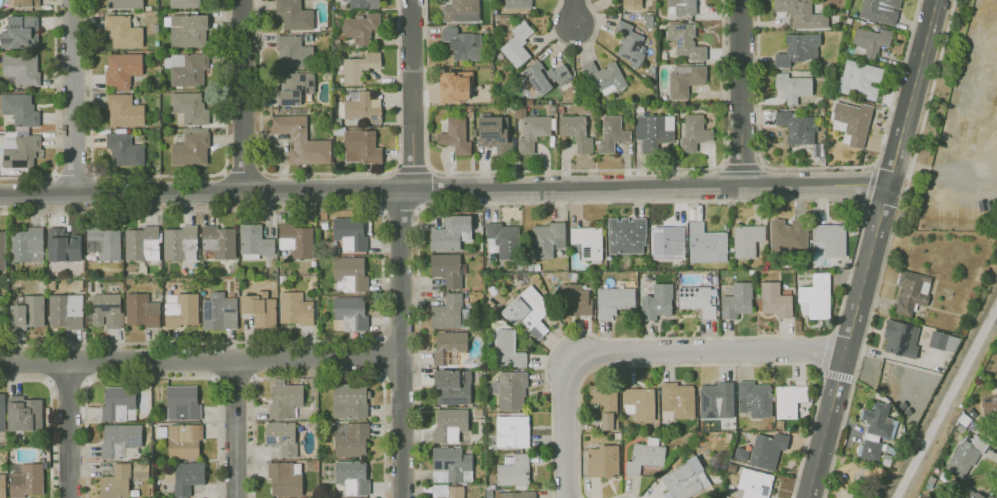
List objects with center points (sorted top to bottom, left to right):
road: (934, 0)
building: (23, 3)
building: (363, 3)
building: (516, 3)
building: (125, 4)
building: (185, 4)
building: (631, 4)
building: (683, 6)
building: (148, 8)
building: (459, 10)
building: (879, 10)
road: (573, 11)
building: (801, 13)
building: (160, 14)
building: (294, 15)
building: (360, 28)
building: (186, 30)
building: (123, 32)
building: (21, 33)
building: (160, 38)
building: (685, 40)
building: (869, 40)
building: (462, 43)
building: (628, 43)
building: (157, 44)
building: (516, 44)
road: (573, 47)
building: (797, 49)
building: (293, 52)
building: (359, 66)
building: (187, 69)
building: (21, 70)
building: (123, 71)
building: (545, 76)
building: (603, 76)
building: (859, 78)
building: (684, 79)
building: (455, 85)
building: (791, 86)
building: (297, 88)
road: (742, 93)
road: (241, 95)
road: (74, 97)
building: (189, 108)
building: (362, 108)
building: (19, 111)
building: (124, 111)
road: (55, 114)
road: (224, 117)
road: (91, 119)
building: (853, 120)
building: (797, 127)
building: (653, 130)
building: (576, 131)
building: (532, 132)
building: (693, 132)
building: (493, 133)
building: (611, 133)
building: (455, 136)
building: (300, 140)
building: (362, 145)
building: (190, 147)
building: (20, 149)
building: (125, 149)
road: (820, 166)
road: (411, 168)
road: (741, 168)
road: (573, 170)
road: (74, 173)
road: (329, 174)
road: (431, 186)
road: (870, 186)
road: (650, 187)
road: (205, 191)
road: (92, 192)
road: (380, 192)
road: (50, 194)
road: (779, 199)
road: (399, 208)
building: (350, 234)
building: (451, 234)
building: (625, 235)
building: (787, 235)
building: (546, 238)
building: (746, 239)
building: (829, 239)
building: (503, 240)
building: (296, 241)
building: (667, 241)
building: (586, 242)
building: (218, 243)
building: (254, 243)
building: (705, 243)
building: (103, 244)
building: (143, 244)
building: (180, 244)
building: (27, 246)
building: (2, 247)
road: (402, 247)
building: (62, 248)
road: (887, 248)
road: (872, 249)
building: (333, 251)
building: (493, 257)
building: (328, 258)
building: (129, 267)
building: (530, 267)
building: (536, 267)
building: (143, 268)
building: (10, 269)
building: (448, 270)
building: (80, 273)
building: (163, 274)
building: (350, 274)
road: (384, 274)
building: (237, 278)
building: (243, 279)
building: (79, 284)
building: (51, 286)
building: (88, 287)
building: (910, 291)
building: (814, 297)
building: (696, 299)
building: (774, 299)
building: (574, 300)
building: (736, 300)
building: (613, 301)
building: (656, 301)
building: (489, 303)
building: (260, 309)
building: (295, 309)
building: (181, 310)
building: (66, 311)
building: (105, 311)
building: (142, 311)
building: (3, 312)
building: (219, 312)
building: (528, 312)
building: (27, 313)
building: (450, 313)
building: (350, 315)
building: (900, 338)
building: (943, 341)
building: (451, 348)
building: (508, 349)
road: (640, 350)
road: (825, 350)
road: (381, 358)
road: (201, 359)
road: (705, 363)
road: (319, 375)
road: (837, 375)
road: (152, 377)
road: (235, 380)
road: (67, 382)
building: (451, 388)
building: (510, 391)
building: (754, 398)
building: (677, 399)
building: (350, 400)
building: (715, 400)
building: (788, 400)
building: (285, 401)
building: (638, 402)
building: (183, 403)
building: (119, 404)
building: (604, 404)
building: (989, 405)
building: (2, 412)
building: (479, 412)
building: (24, 414)
building: (486, 415)
road: (52, 416)
building: (313, 424)
building: (450, 426)
road: (235, 428)
building: (875, 429)
road: (69, 430)
building: (162, 432)
building: (512, 432)
building: (282, 438)
building: (351, 439)
building: (121, 441)
building: (184, 442)
building: (766, 449)
building: (644, 455)
building: (965, 455)
building: (602, 460)
building: (451, 466)
building: (141, 471)
building: (514, 472)
building: (186, 478)
building: (353, 478)
building: (27, 479)
building: (285, 479)
park: (858, 479)
building: (684, 480)
building: (116, 482)
building: (754, 483)
building: (3, 486)
building: (448, 491)
building: (489, 494)
road: (622, 494)
building: (516, 495)
building: (981, 495)

